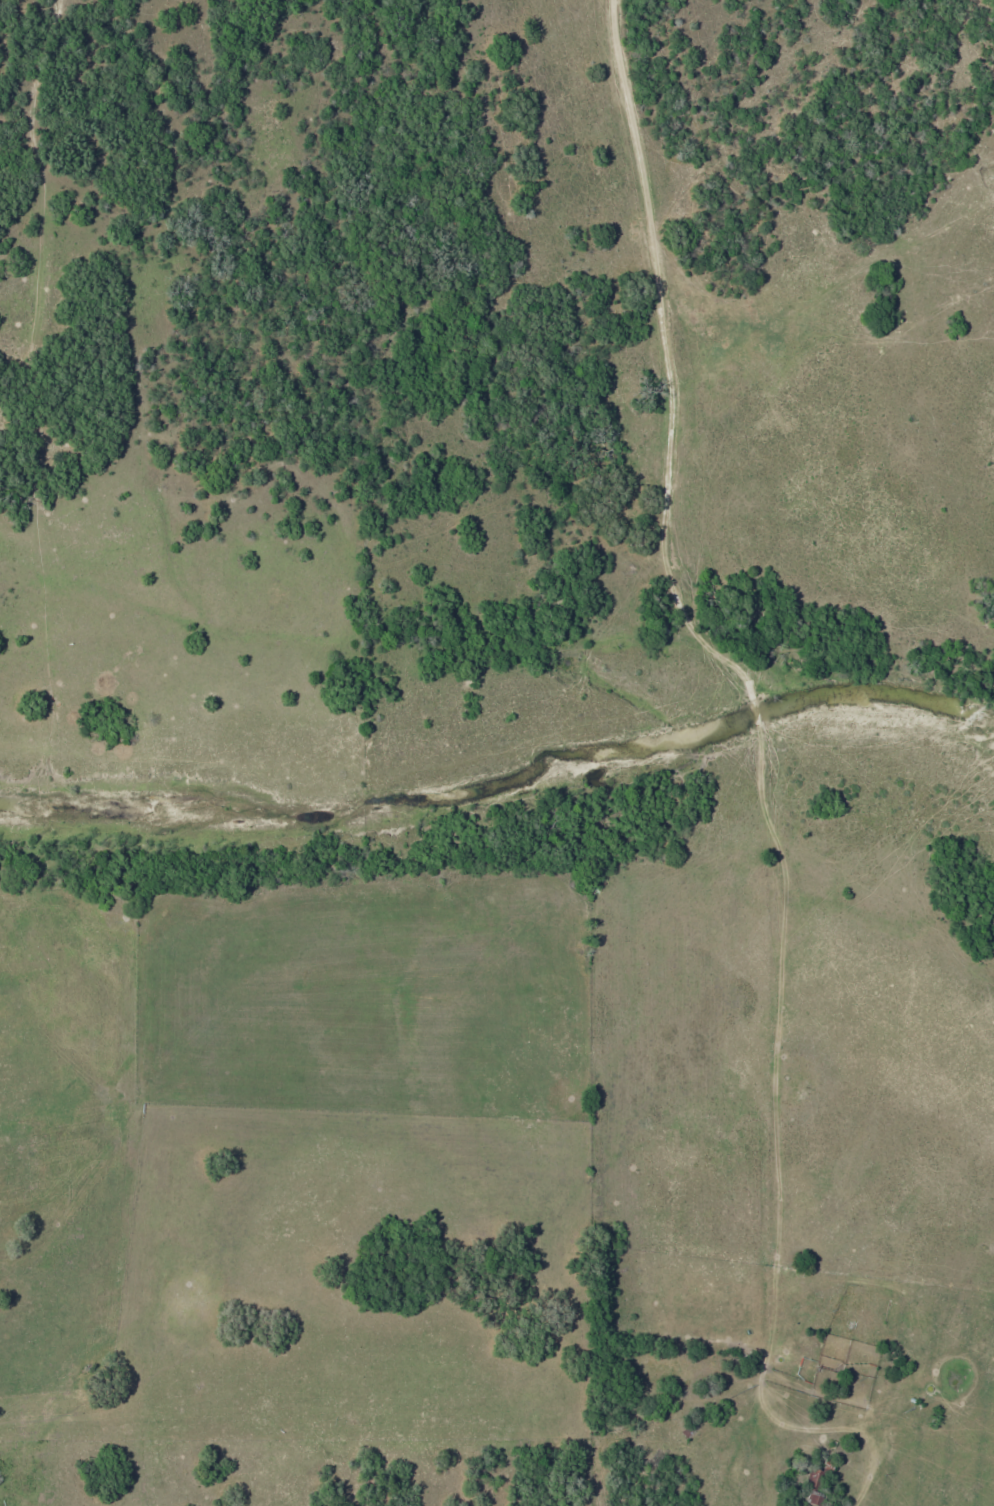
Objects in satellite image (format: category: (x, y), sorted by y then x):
building: (817, 1496)

